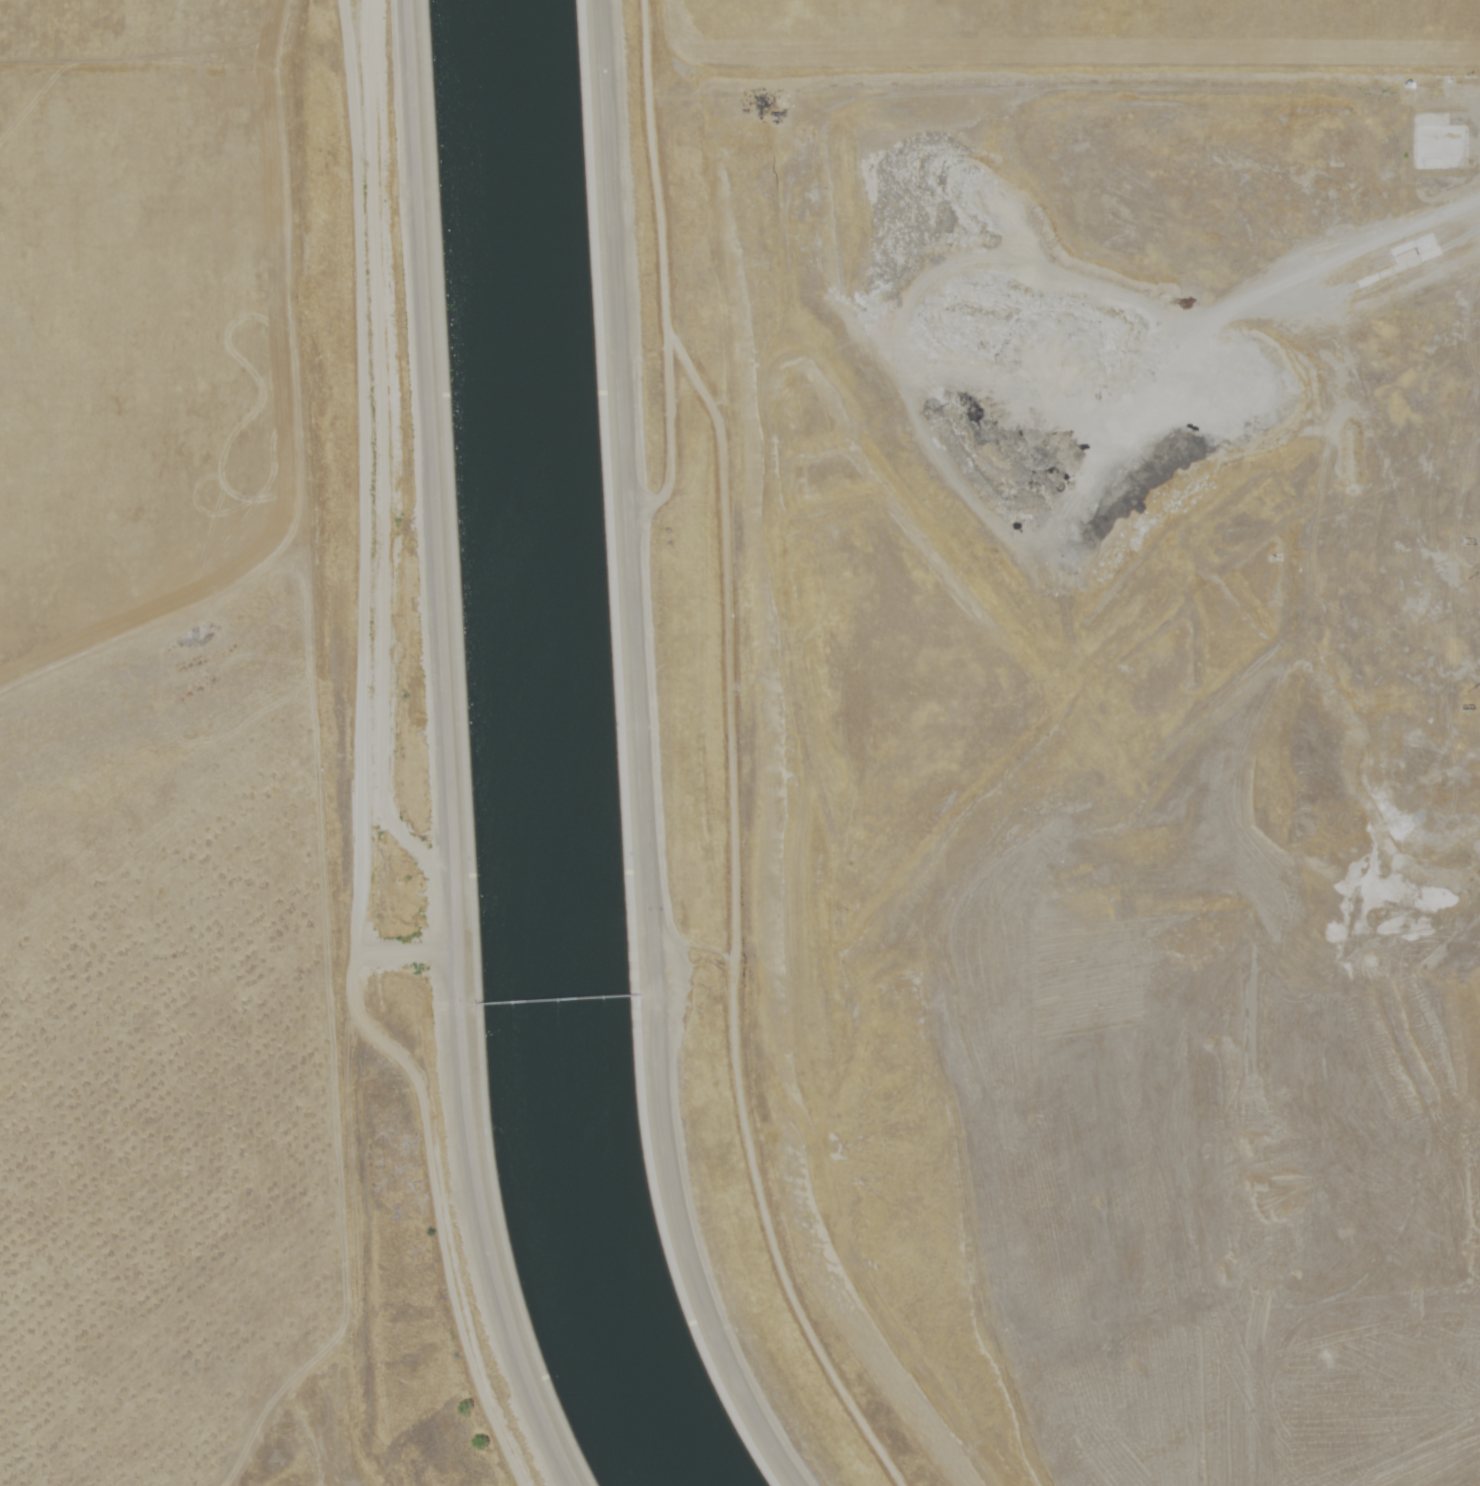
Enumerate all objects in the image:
crop: (1081, 30)
road: (135, 76)
road: (1301, 668)
road: (446, 730)
crop: (208, 739)
road: (1058, 952)

